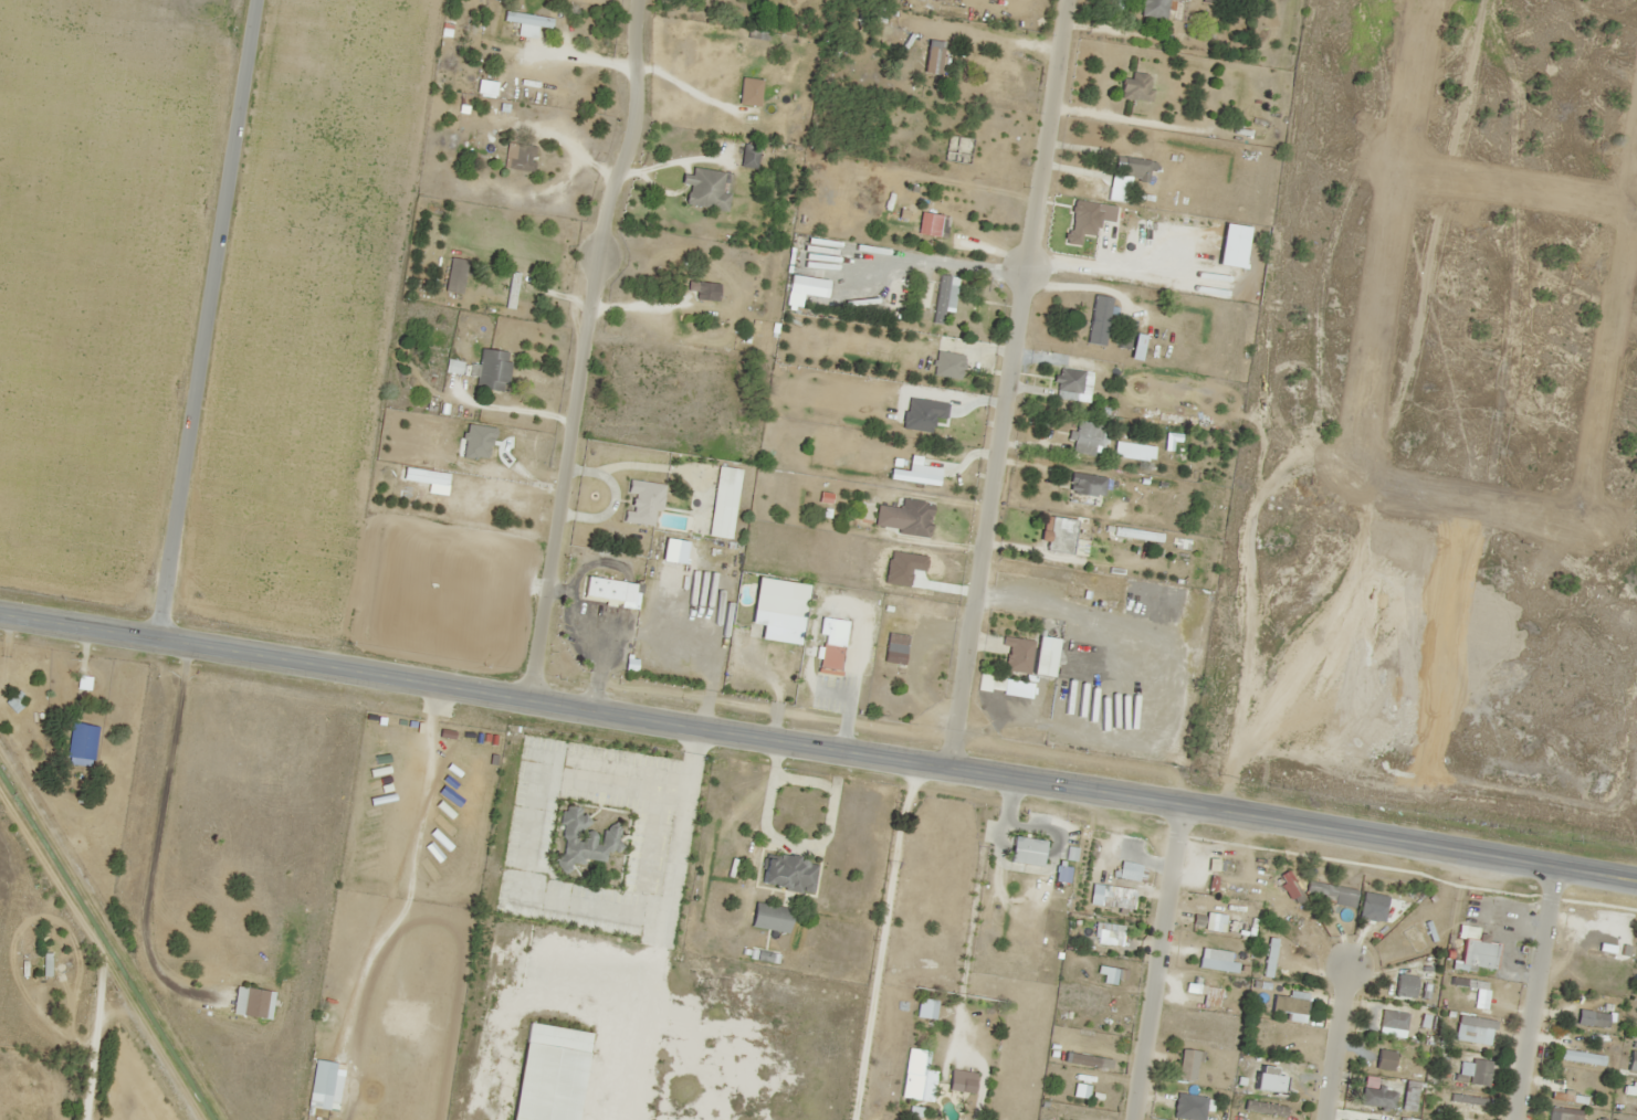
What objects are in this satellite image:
building: (1153, 8)
building: (527, 19)
building: (936, 61)
building: (767, 78)
building: (1135, 86)
building: (957, 149)
building: (749, 156)
building: (522, 157)
building: (1135, 169)
building: (704, 189)
building: (936, 225)
building: (1109, 234)
building: (484, 236)
building: (460, 271)
building: (512, 289)
building: (705, 292)
building: (924, 295)
building: (944, 297)
building: (1099, 319)
road: (204, 321)
road: (581, 349)
building: (947, 364)
building: (492, 370)
road: (1008, 384)
building: (1068, 384)
building: (1084, 437)
building: (914, 477)
building: (1087, 482)
building: (480, 484)
building: (642, 503)
building: (724, 503)
building: (1043, 503)
building: (914, 517)
building: (1056, 532)
building: (607, 590)
building: (1092, 593)
building: (778, 604)
building: (1017, 654)
building: (1043, 656)
building: (892, 657)
building: (828, 658)
building: (82, 744)
road: (818, 749)
building: (585, 838)
building: (1026, 852)
building: (1132, 871)
building: (788, 873)
building: (1062, 874)
building: (1334, 892)
building: (1123, 906)
building: (769, 917)
building: (1387, 918)
building: (1106, 933)
building: (1476, 951)
road: (1156, 961)
building: (1274, 961)
building: (1217, 964)
building: (1405, 985)
building: (1203, 992)
road: (1535, 994)
building: (1475, 997)
building: (252, 1002)
building: (1290, 1003)
building: (1393, 1019)
building: (1598, 1019)
building: (1472, 1028)
road: (1339, 1042)
building: (1278, 1047)
building: (1580, 1057)
building: (1384, 1059)
building: (1633, 1061)
building: (322, 1064)
building: (548, 1073)
building: (919, 1075)
building: (1630, 1084)
building: (1271, 1086)
building: (1568, 1097)
building: (1376, 1099)
building: (1469, 1102)
building: (1266, 1107)
building: (1183, 1113)
building: (1563, 1114)

